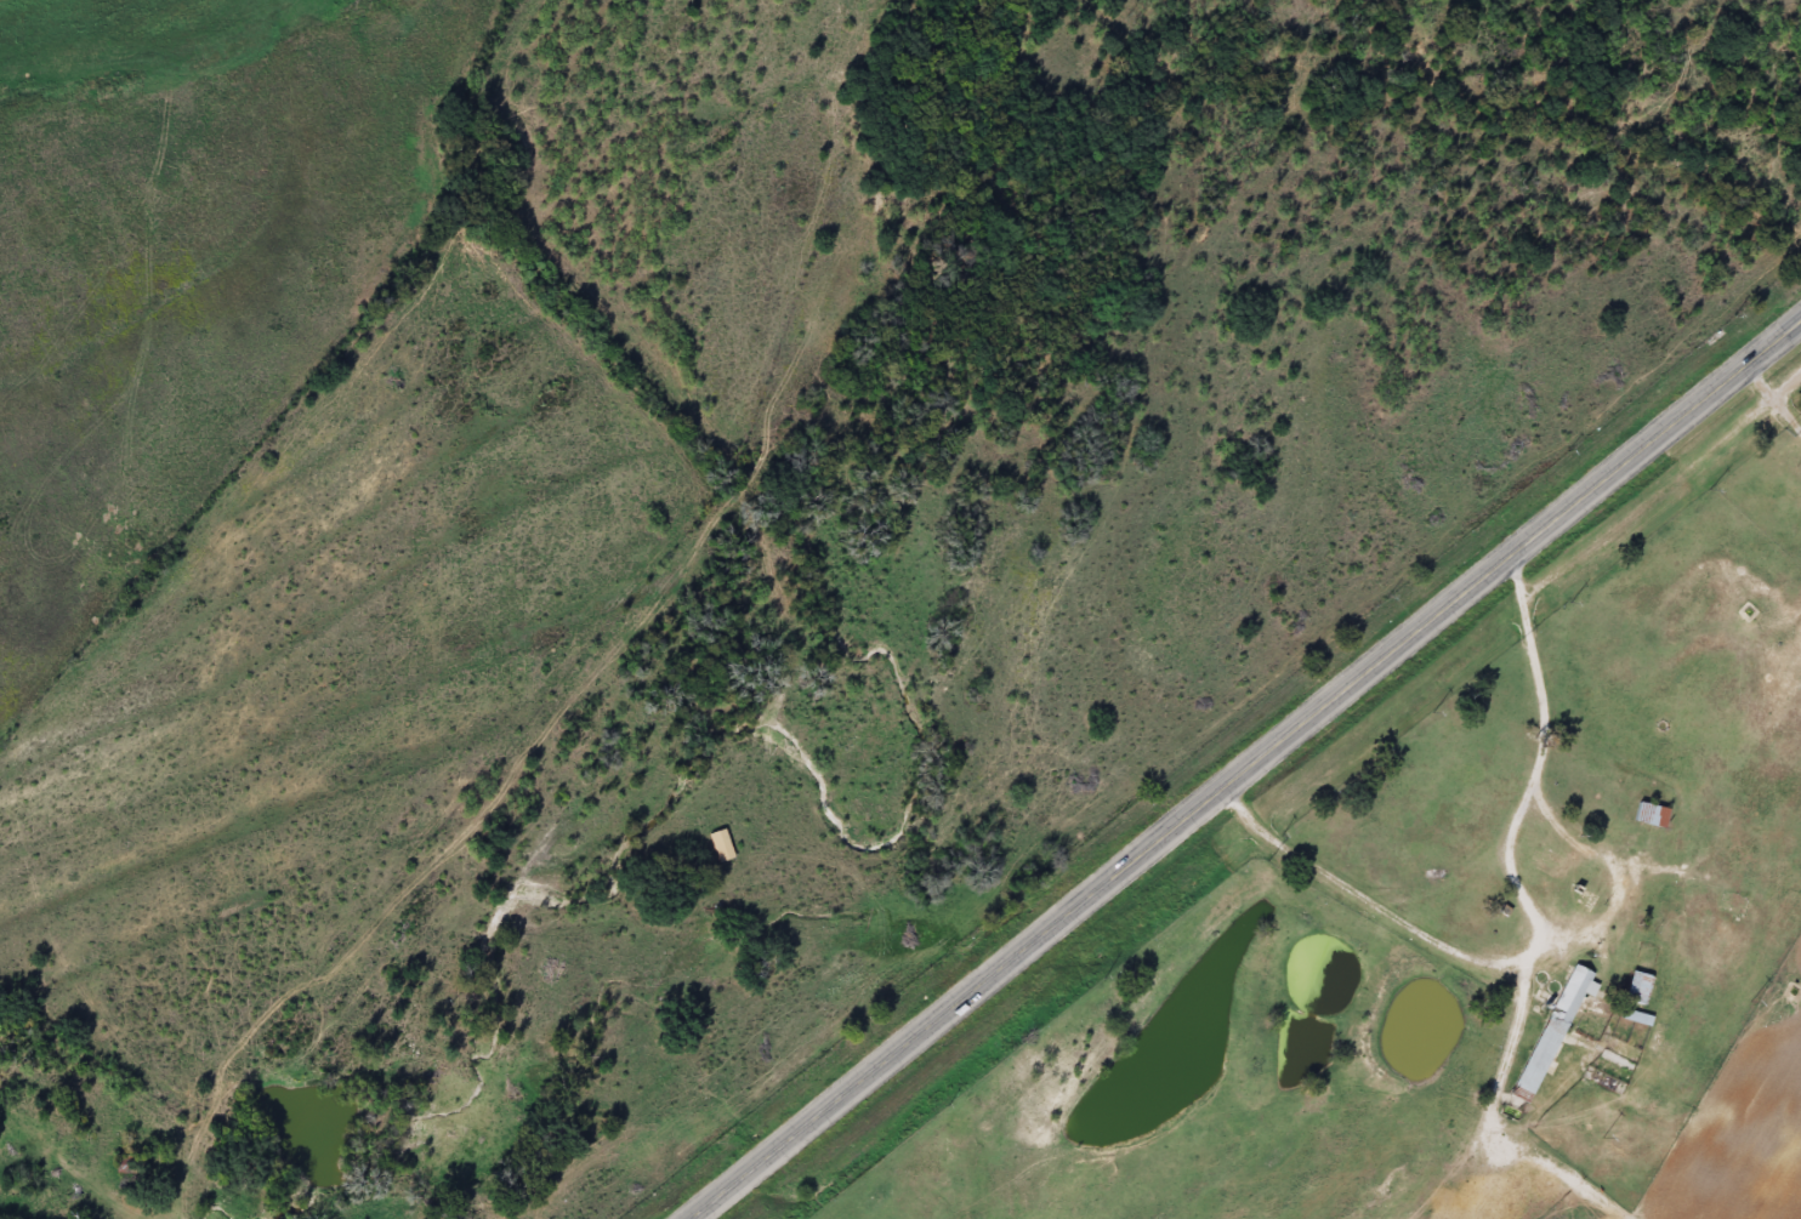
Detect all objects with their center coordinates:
building: (1684, 610)
road: (1245, 769)
building: (1646, 814)
road: (1585, 824)
building: (1578, 898)
road: (1534, 927)
building: (1632, 987)
building: (1631, 1015)
building: (1551, 1029)

